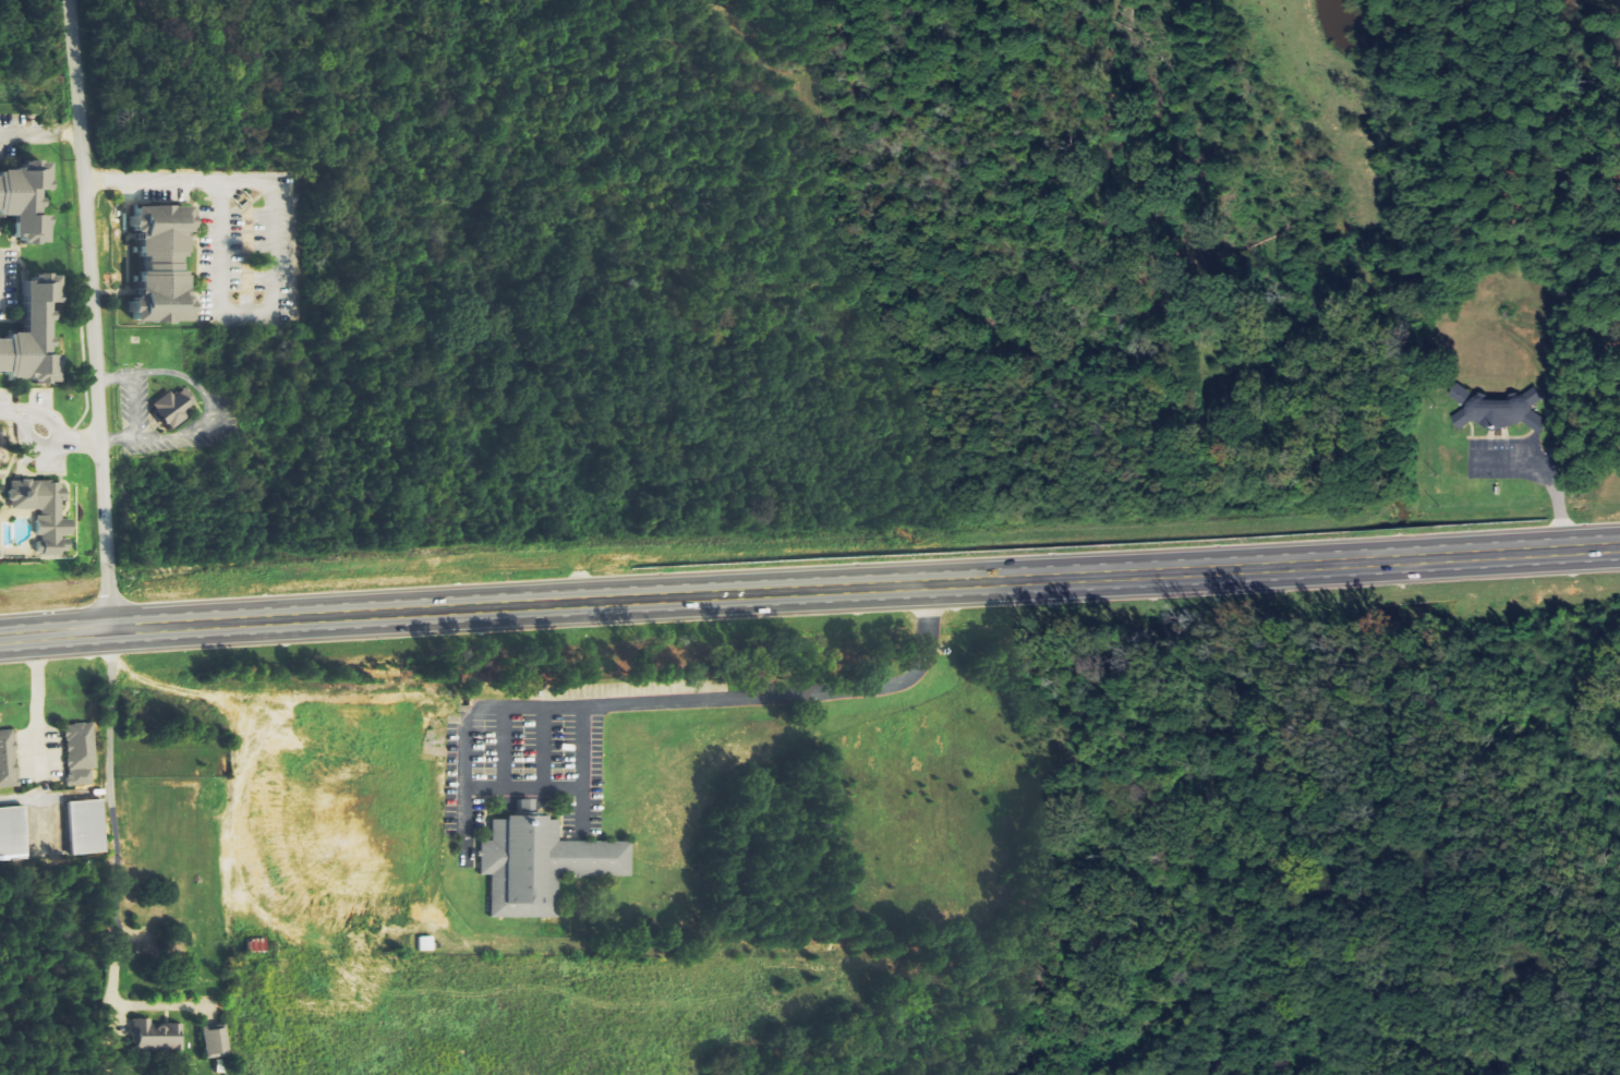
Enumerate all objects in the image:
road: (41, 134)
road: (213, 186)
building: (27, 202)
building: (165, 266)
road: (95, 316)
building: (35, 337)
building: (174, 408)
building: (1502, 411)
road: (47, 439)
building: (45, 514)
road: (810, 602)
road: (721, 701)
building: (81, 753)
building: (8, 760)
building: (83, 828)
building: (12, 834)
building: (536, 863)
building: (426, 943)
building: (257, 944)
building: (159, 1035)
building: (217, 1041)

